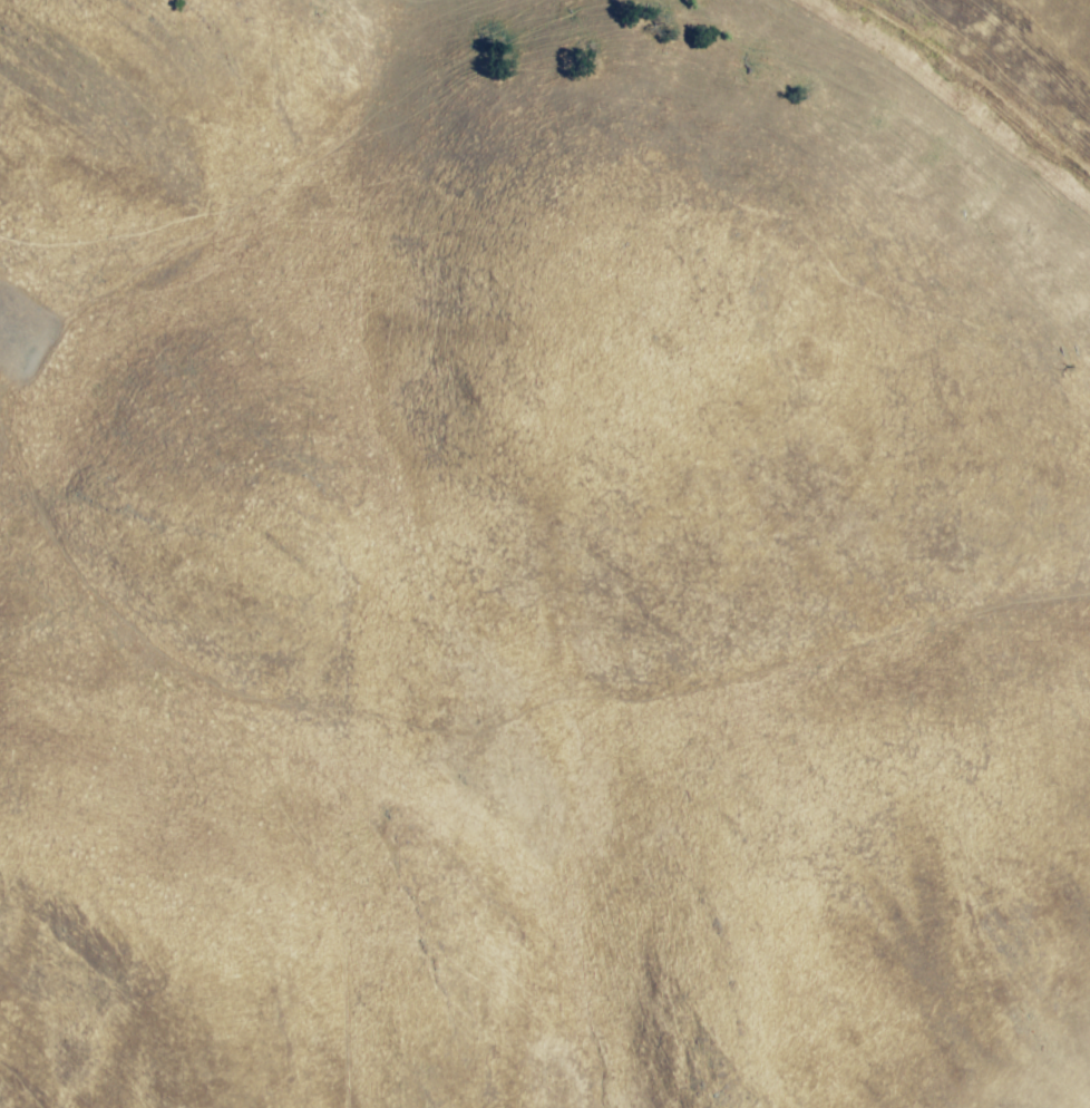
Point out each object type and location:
road: (974, 88)

